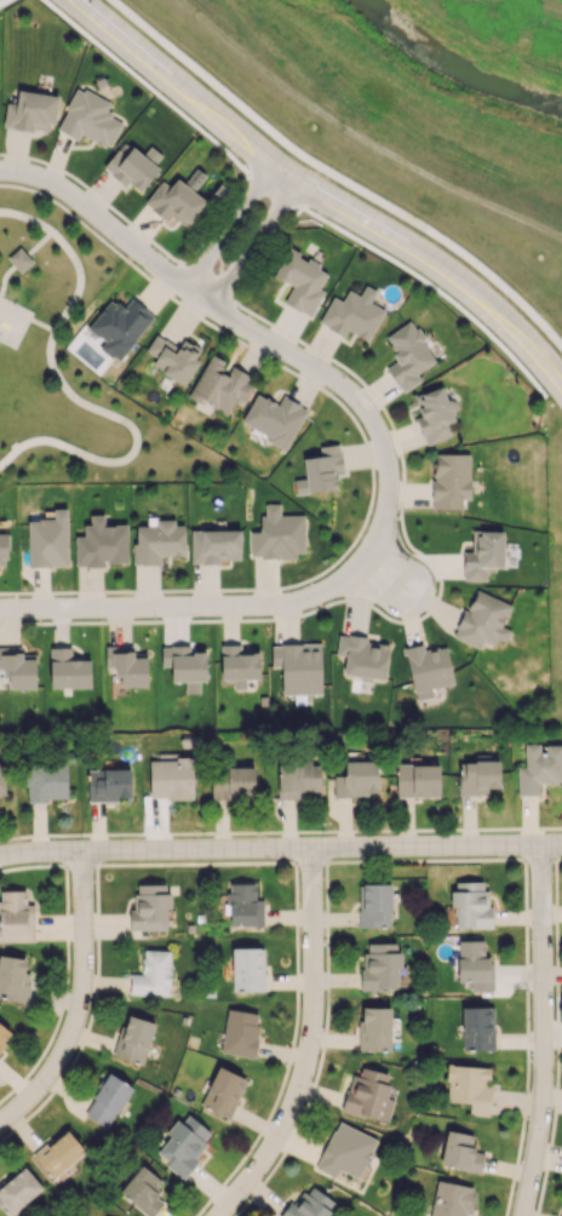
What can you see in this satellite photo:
river: (451, 69)
road: (277, 79)
building: (31, 111)
building: (88, 117)
road: (375, 145)
building: (132, 165)
road: (339, 176)
road: (319, 195)
building: (174, 200)
road: (229, 226)
road: (253, 245)
road: (21, 260)
building: (300, 281)
building: (351, 315)
park: (12, 323)
road: (42, 326)
building: (120, 326)
building: (407, 355)
building: (173, 357)
park: (74, 362)
building: (220, 385)
road: (71, 395)
building: (434, 414)
building: (274, 418)
road: (383, 452)
building: (320, 471)
building: (451, 480)
building: (277, 534)
building: (48, 540)
building: (157, 541)
building: (101, 543)
building: (214, 545)
building: (2, 549)
building: (483, 553)
road: (383, 574)
building: (482, 620)
building: (362, 655)
building: (239, 664)
building: (126, 665)
building: (184, 665)
building: (17, 667)
building: (298, 667)
building: (68, 670)
building: (428, 670)
building: (539, 767)
building: (477, 776)
building: (171, 778)
building: (297, 779)
building: (357, 779)
building: (417, 780)
building: (46, 781)
building: (233, 782)
building: (108, 784)
building: (1, 785)
road: (280, 845)
building: (243, 905)
building: (374, 905)
building: (470, 905)
building: (149, 907)
building: (16, 917)
building: (474, 963)
building: (380, 965)
building: (247, 969)
building: (151, 974)
building: (13, 979)
road: (78, 1003)
building: (477, 1027)
building: (374, 1028)
road: (541, 1029)
building: (240, 1032)
building: (4, 1036)
building: (133, 1039)
road: (314, 1043)
building: (469, 1086)
building: (223, 1091)
building: (368, 1095)
building: (107, 1100)
building: (183, 1143)
building: (345, 1151)
building: (460, 1152)
building: (58, 1153)
building: (17, 1189)
building: (143, 1191)
building: (452, 1199)
building: (310, 1203)

